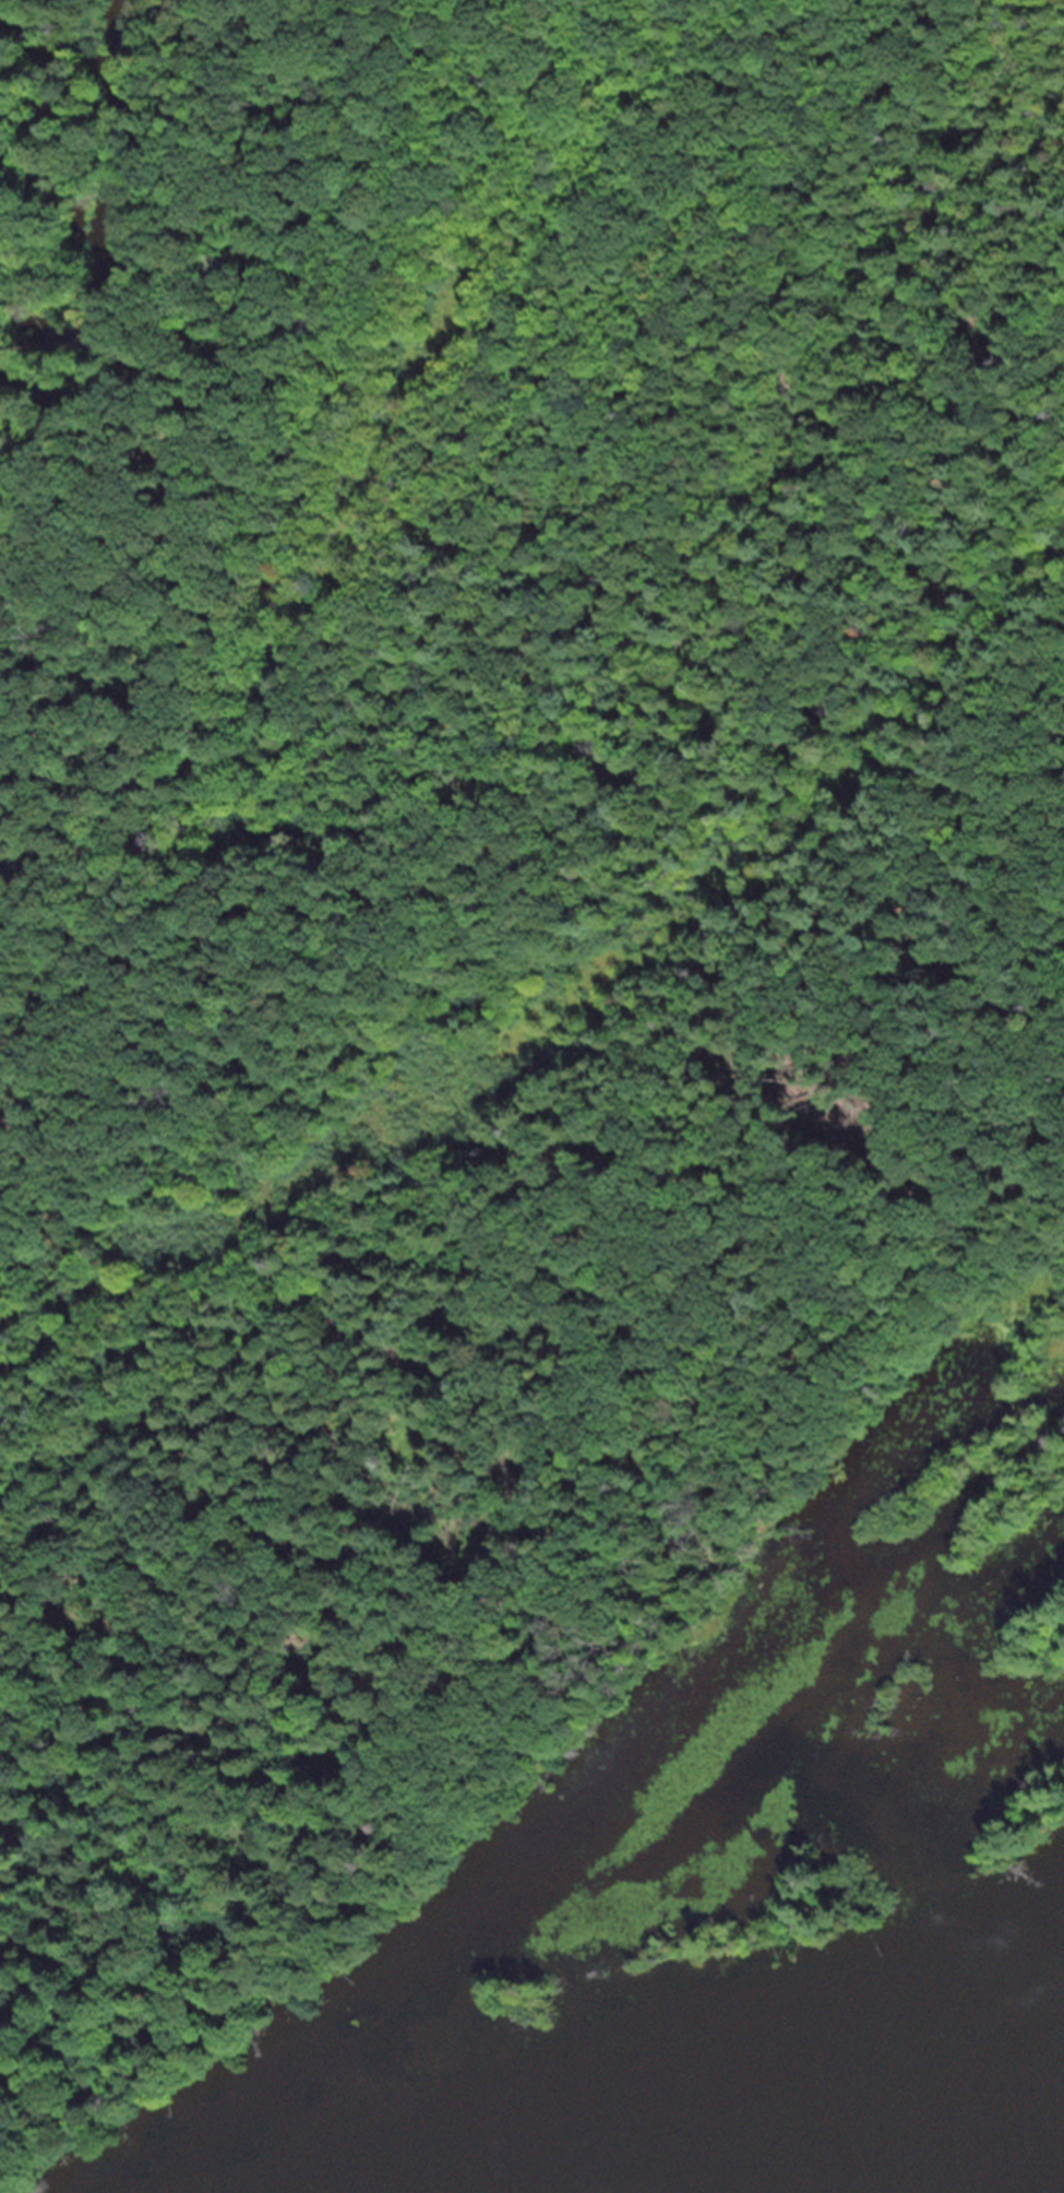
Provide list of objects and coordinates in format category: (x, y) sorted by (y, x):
river: (993, 2134)

